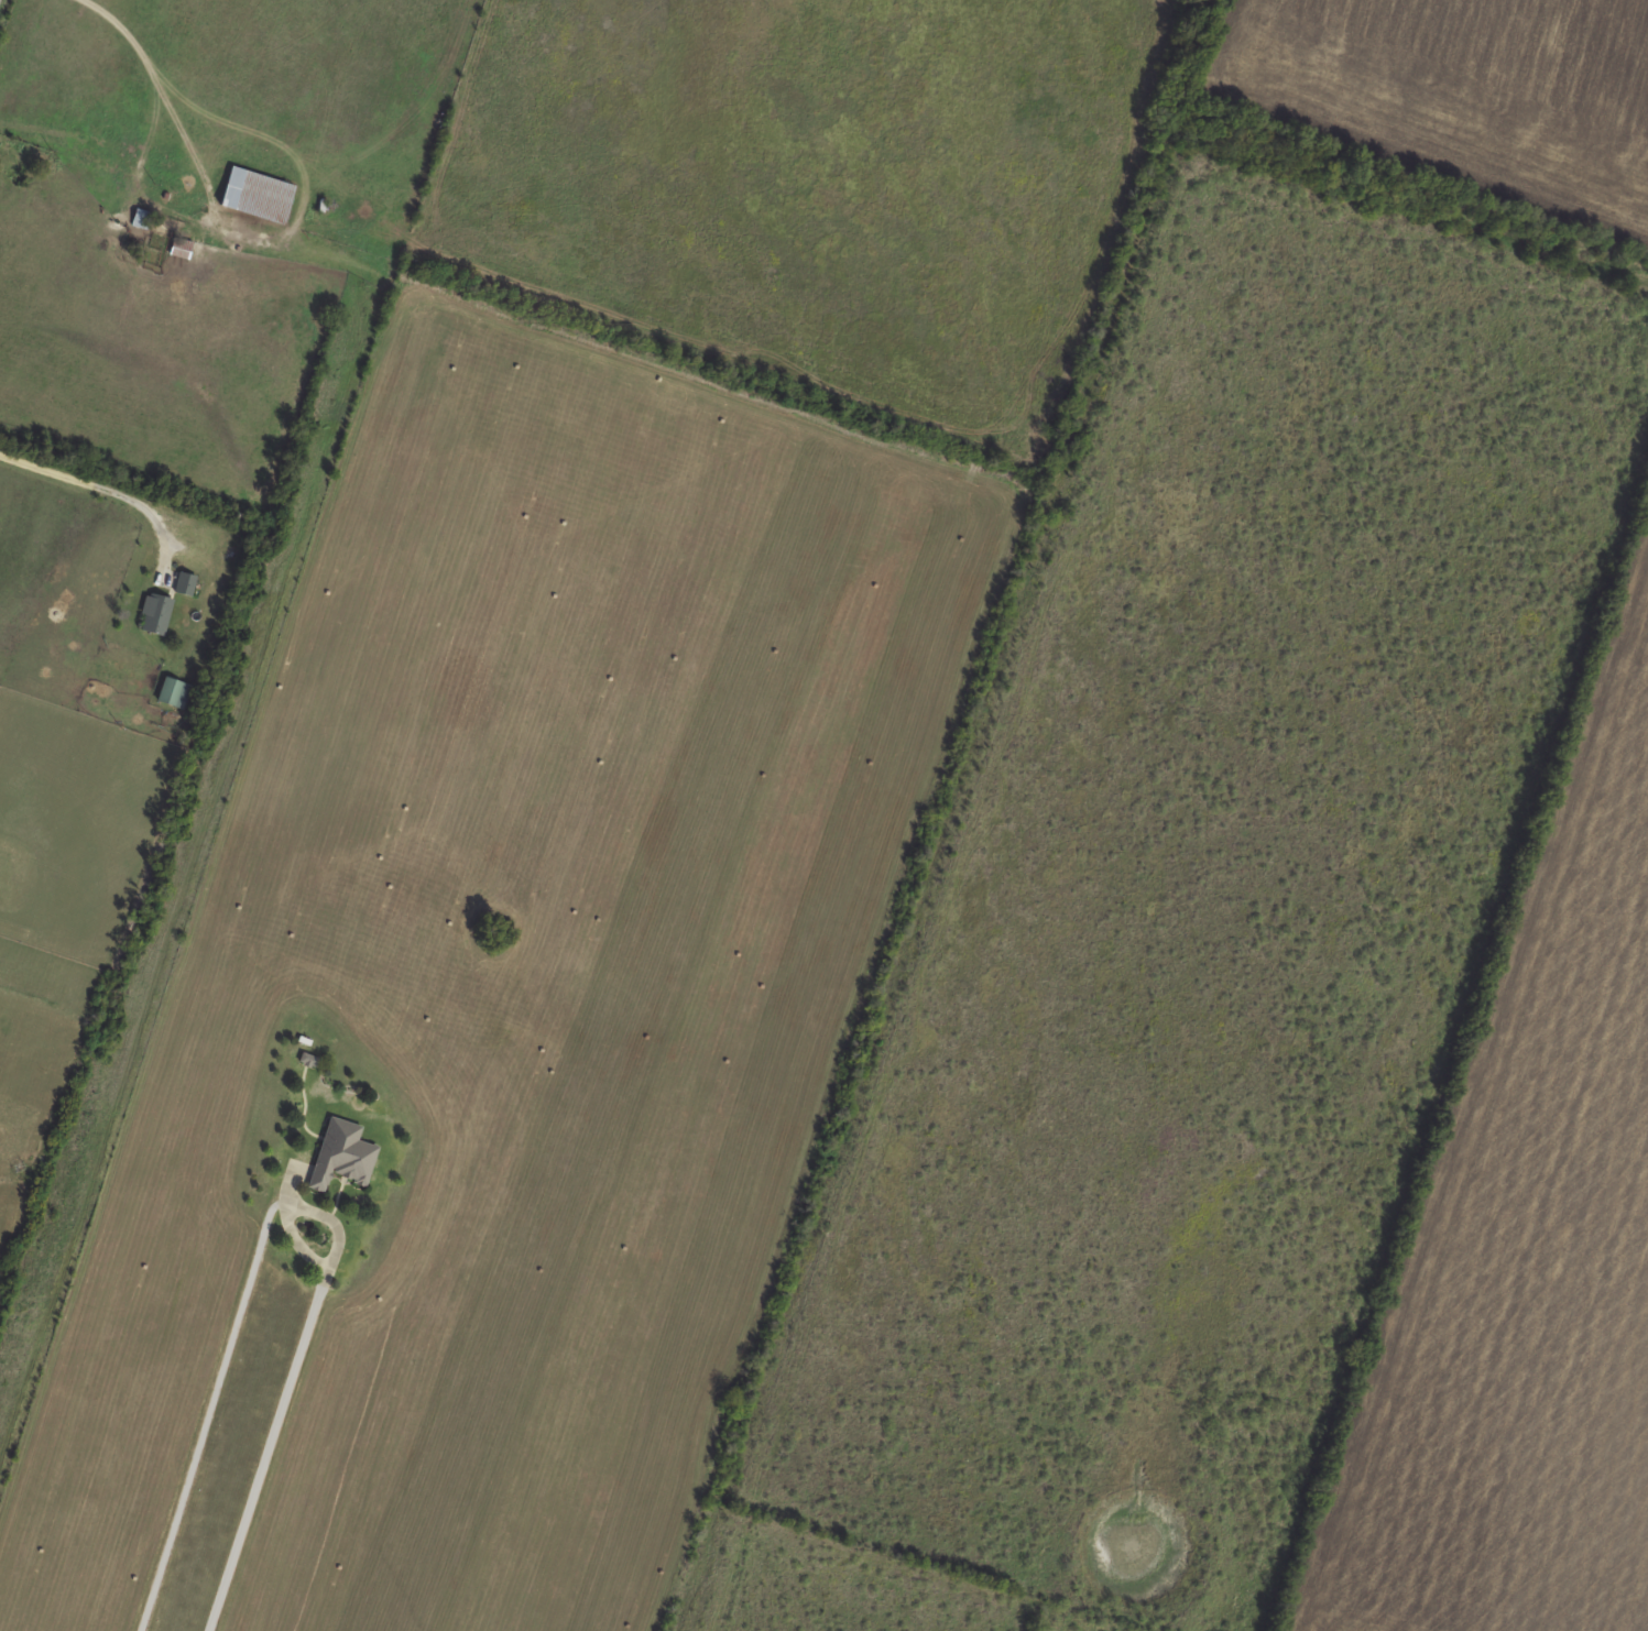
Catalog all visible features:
road: (1, 3)
road: (128, 34)
building: (257, 196)
building: (142, 220)
road: (294, 229)
building: (182, 249)
road: (109, 489)
building: (186, 584)
building: (156, 614)
building: (170, 691)
building: (342, 1156)
road: (295, 1207)

